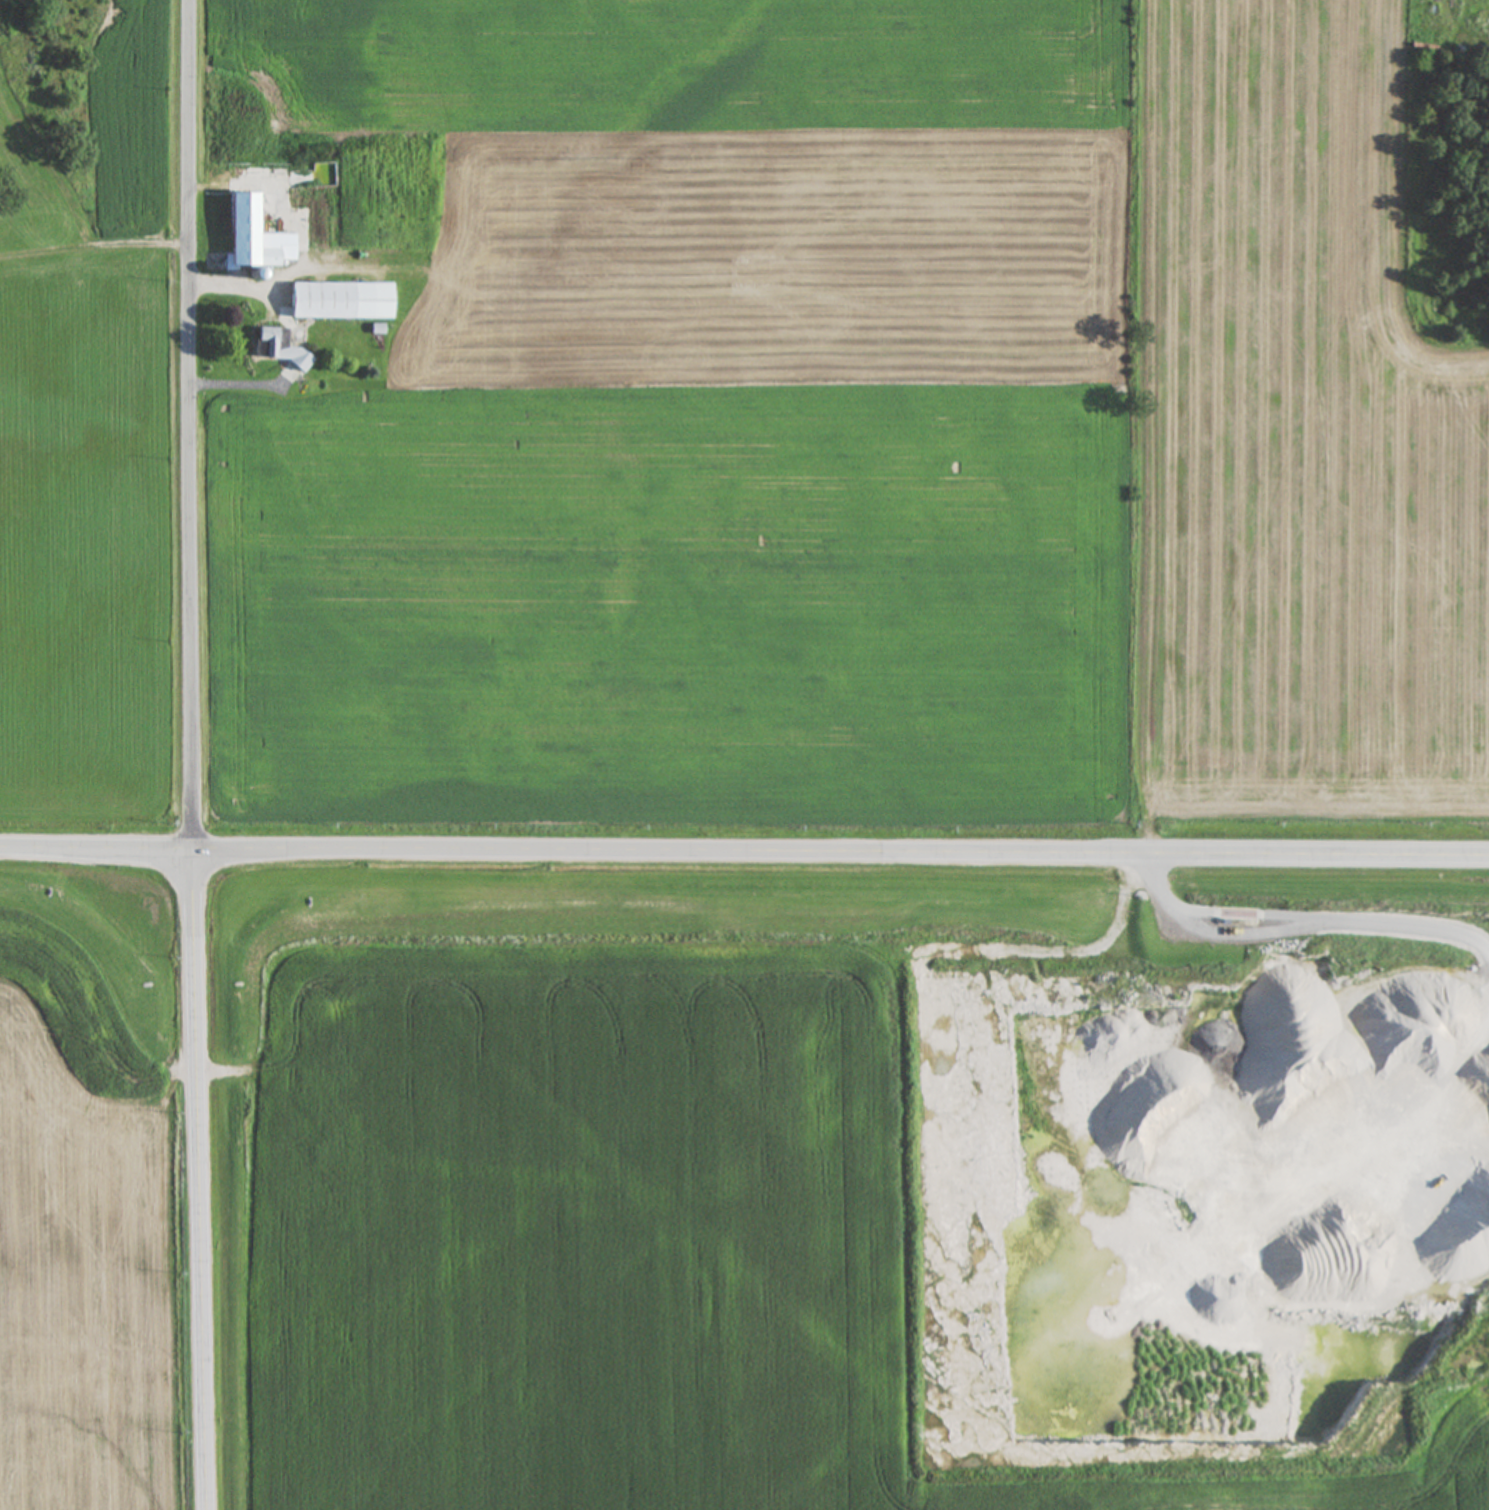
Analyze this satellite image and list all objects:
building: (254, 237)
building: (341, 301)
building: (275, 347)
road: (192, 429)
road: (744, 861)
quarry: (1267, 1157)
road: (199, 1184)

